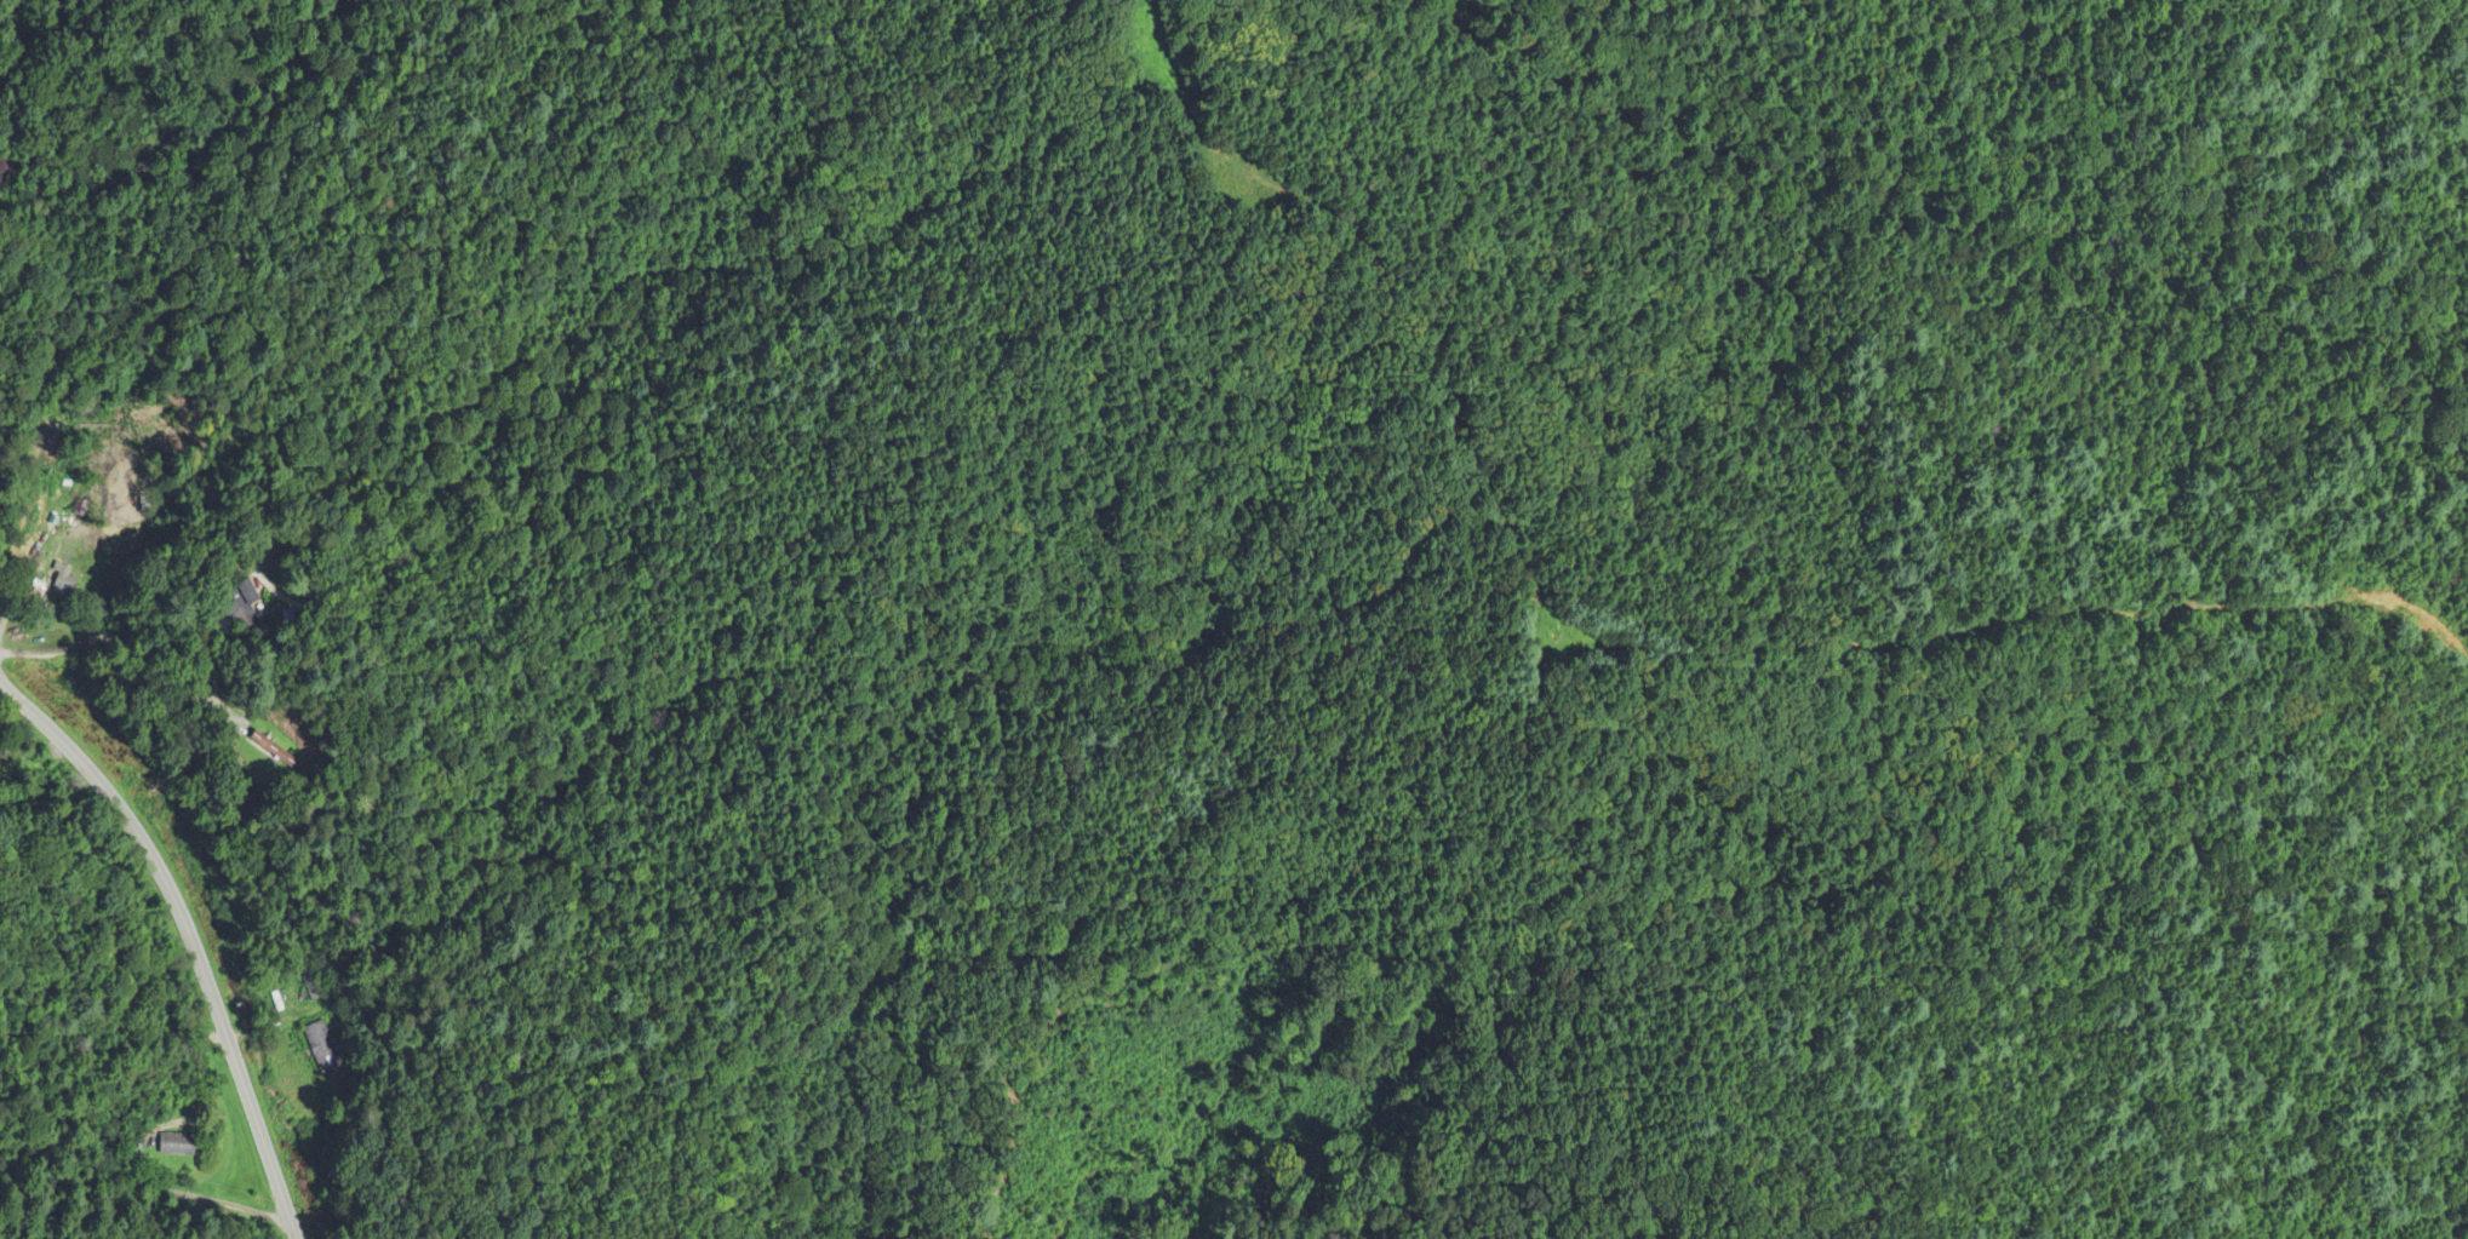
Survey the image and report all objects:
building: (10, 176)
building: (81, 509)
building: (65, 581)
building: (241, 608)
road: (128, 638)
building: (81, 699)
building: (275, 750)
road: (190, 936)
building: (313, 985)
building: (322, 1049)
building: (179, 1146)
road: (148, 1191)

